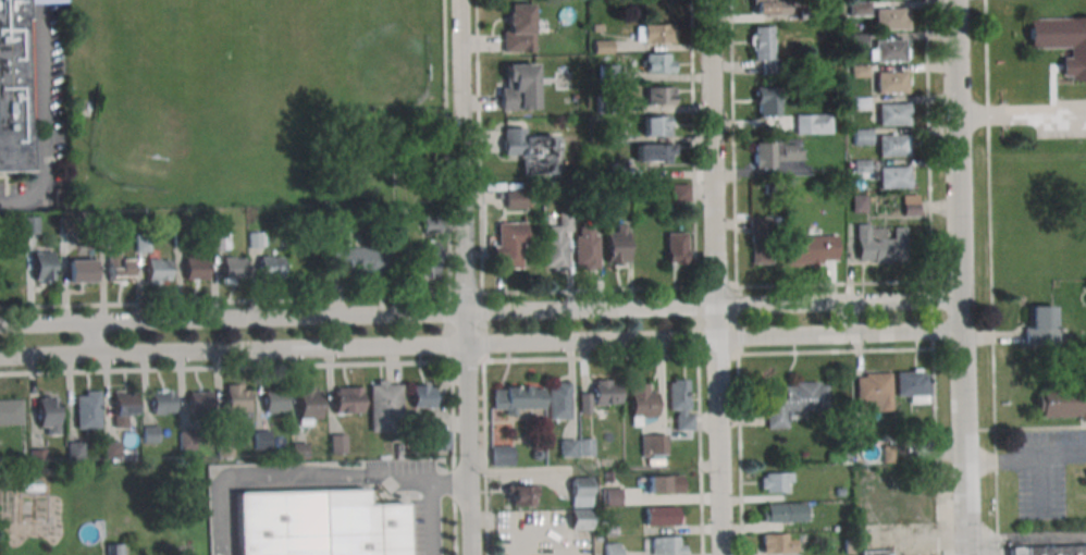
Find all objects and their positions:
building: (770, 7)
building: (859, 9)
building: (806, 13)
building: (889, 20)
building: (518, 27)
building: (596, 27)
building: (654, 33)
building: (857, 41)
building: (1062, 41)
building: (601, 47)
building: (763, 48)
building: (889, 50)
park: (354, 51)
building: (656, 64)
building: (857, 71)
building: (608, 72)
building: (890, 83)
building: (518, 86)
building: (13, 87)
park: (231, 92)
building: (658, 95)
building: (572, 97)
building: (767, 101)
building: (605, 103)
building: (860, 103)
building: (891, 114)
road: (1021, 114)
park: (172, 116)
parking lot: (1062, 119)
road: (40, 122)
building: (812, 123)
building: (656, 125)
building: (862, 136)
building: (613, 138)
building: (891, 146)
road: (447, 147)
building: (529, 149)
building: (654, 152)
road: (711, 152)
building: (775, 152)
building: (861, 165)
building: (616, 168)
building: (892, 177)
building: (592, 192)
building: (679, 193)
building: (515, 198)
building: (61, 199)
building: (859, 203)
building: (910, 205)
building: (106, 220)
building: (431, 223)
building: (30, 224)
building: (65, 224)
building: (335, 226)
building: (180, 237)
building: (220, 239)
building: (255, 239)
building: (761, 239)
road: (735, 242)
building: (140, 243)
building: (616, 243)
building: (508, 244)
building: (880, 244)
building: (556, 245)
building: (587, 247)
building: (676, 247)
building: (812, 249)
building: (428, 258)
building: (359, 261)
building: (303, 264)
building: (42, 266)
building: (271, 267)
building: (119, 268)
building: (195, 268)
building: (233, 269)
building: (158, 270)
building: (78, 271)
road: (990, 276)
road: (464, 277)
road: (930, 277)
road: (960, 277)
road: (716, 283)
road: (465, 291)
road: (585, 291)
road: (903, 299)
road: (224, 300)
road: (656, 306)
road: (232, 318)
road: (848, 319)
road: (740, 320)
road: (696, 321)
building: (1038, 324)
road: (484, 326)
road: (91, 338)
road: (444, 344)
road: (481, 344)
road: (717, 354)
road: (738, 356)
road: (592, 357)
road: (321, 365)
building: (911, 385)
building: (873, 392)
building: (600, 393)
building: (421, 396)
building: (516, 398)
building: (346, 399)
building: (199, 400)
building: (274, 400)
building: (557, 400)
building: (1061, 400)
building: (162, 402)
building: (237, 402)
building: (642, 403)
building: (793, 403)
building: (383, 404)
building: (679, 404)
building: (309, 405)
building: (122, 406)
building: (87, 408)
building: (11, 410)
building: (47, 414)
building: (607, 417)
road: (716, 430)
building: (150, 433)
building: (441, 440)
building: (186, 441)
building: (262, 441)
building: (337, 443)
building: (653, 445)
building: (584, 446)
building: (224, 447)
building: (567, 447)
building: (111, 448)
building: (74, 449)
building: (299, 451)
building: (886, 454)
building: (499, 455)
building: (37, 458)
building: (844, 458)
road: (1025, 460)
parking lot: (1046, 470)
building: (607, 477)
road: (328, 479)
building: (775, 481)
road: (448, 482)
building: (658, 484)
building: (579, 491)
building: (838, 492)
building: (519, 495)
building: (610, 496)
building: (783, 511)
building: (659, 516)
building: (578, 519)
building: (319, 523)
building: (608, 530)
road: (1025, 536)
building: (776, 543)
building: (662, 545)
building: (612, 548)
building: (113, 550)
building: (1047, 550)
building: (876, 552)
building: (183, 554)

